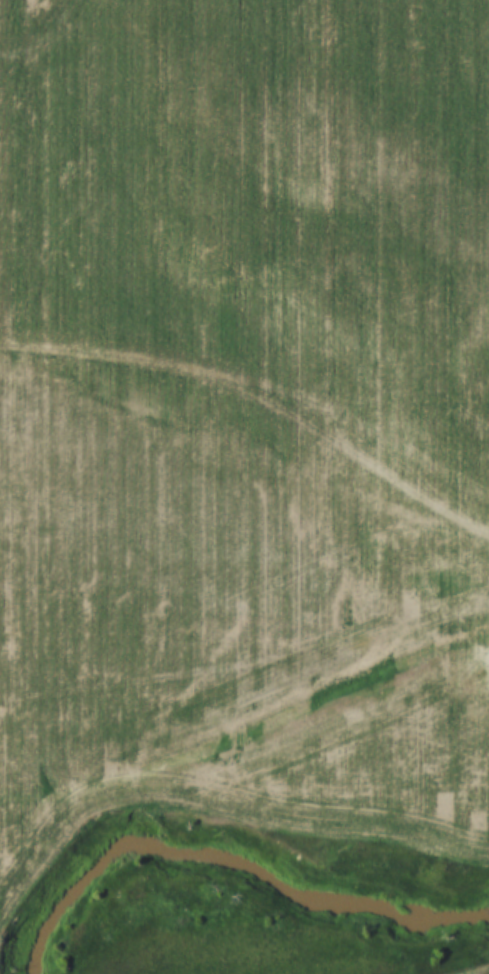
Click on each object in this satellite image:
river: (257, 865)

